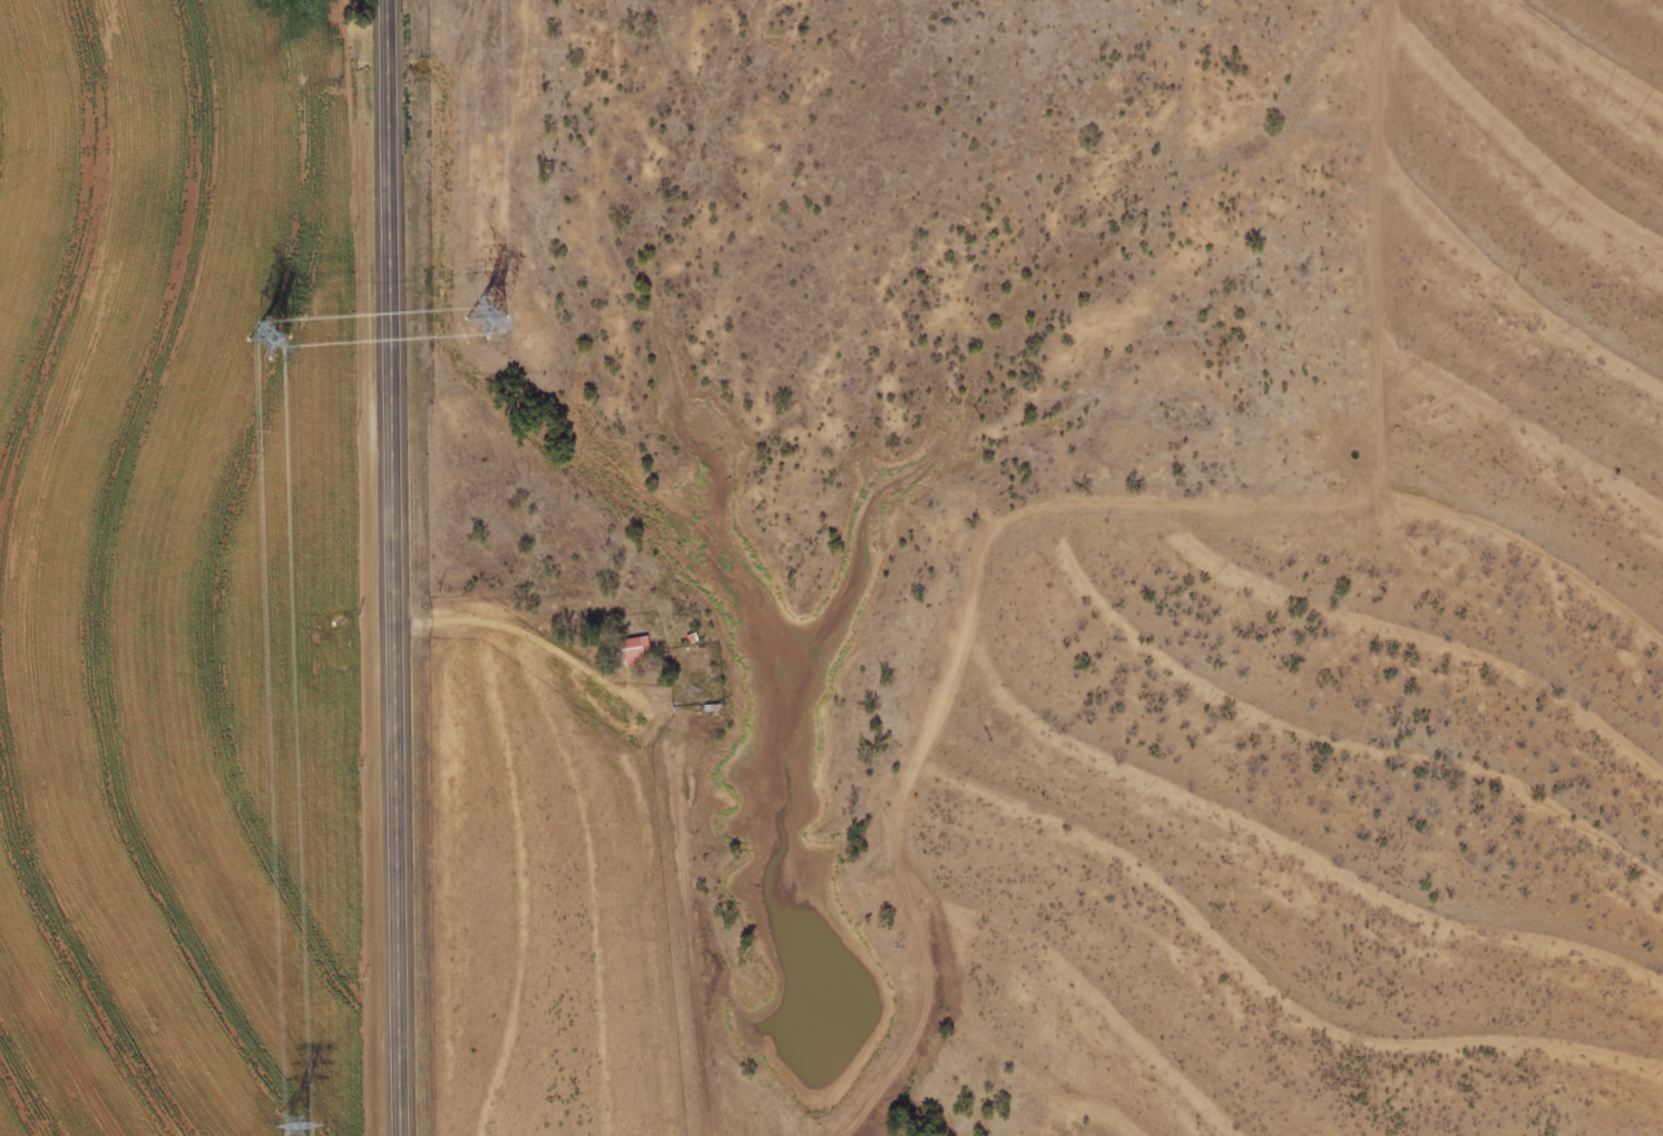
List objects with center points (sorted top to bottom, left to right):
power tower: (483, 317)
power tower: (265, 337)
road: (397, 568)
power tower: (290, 1126)

